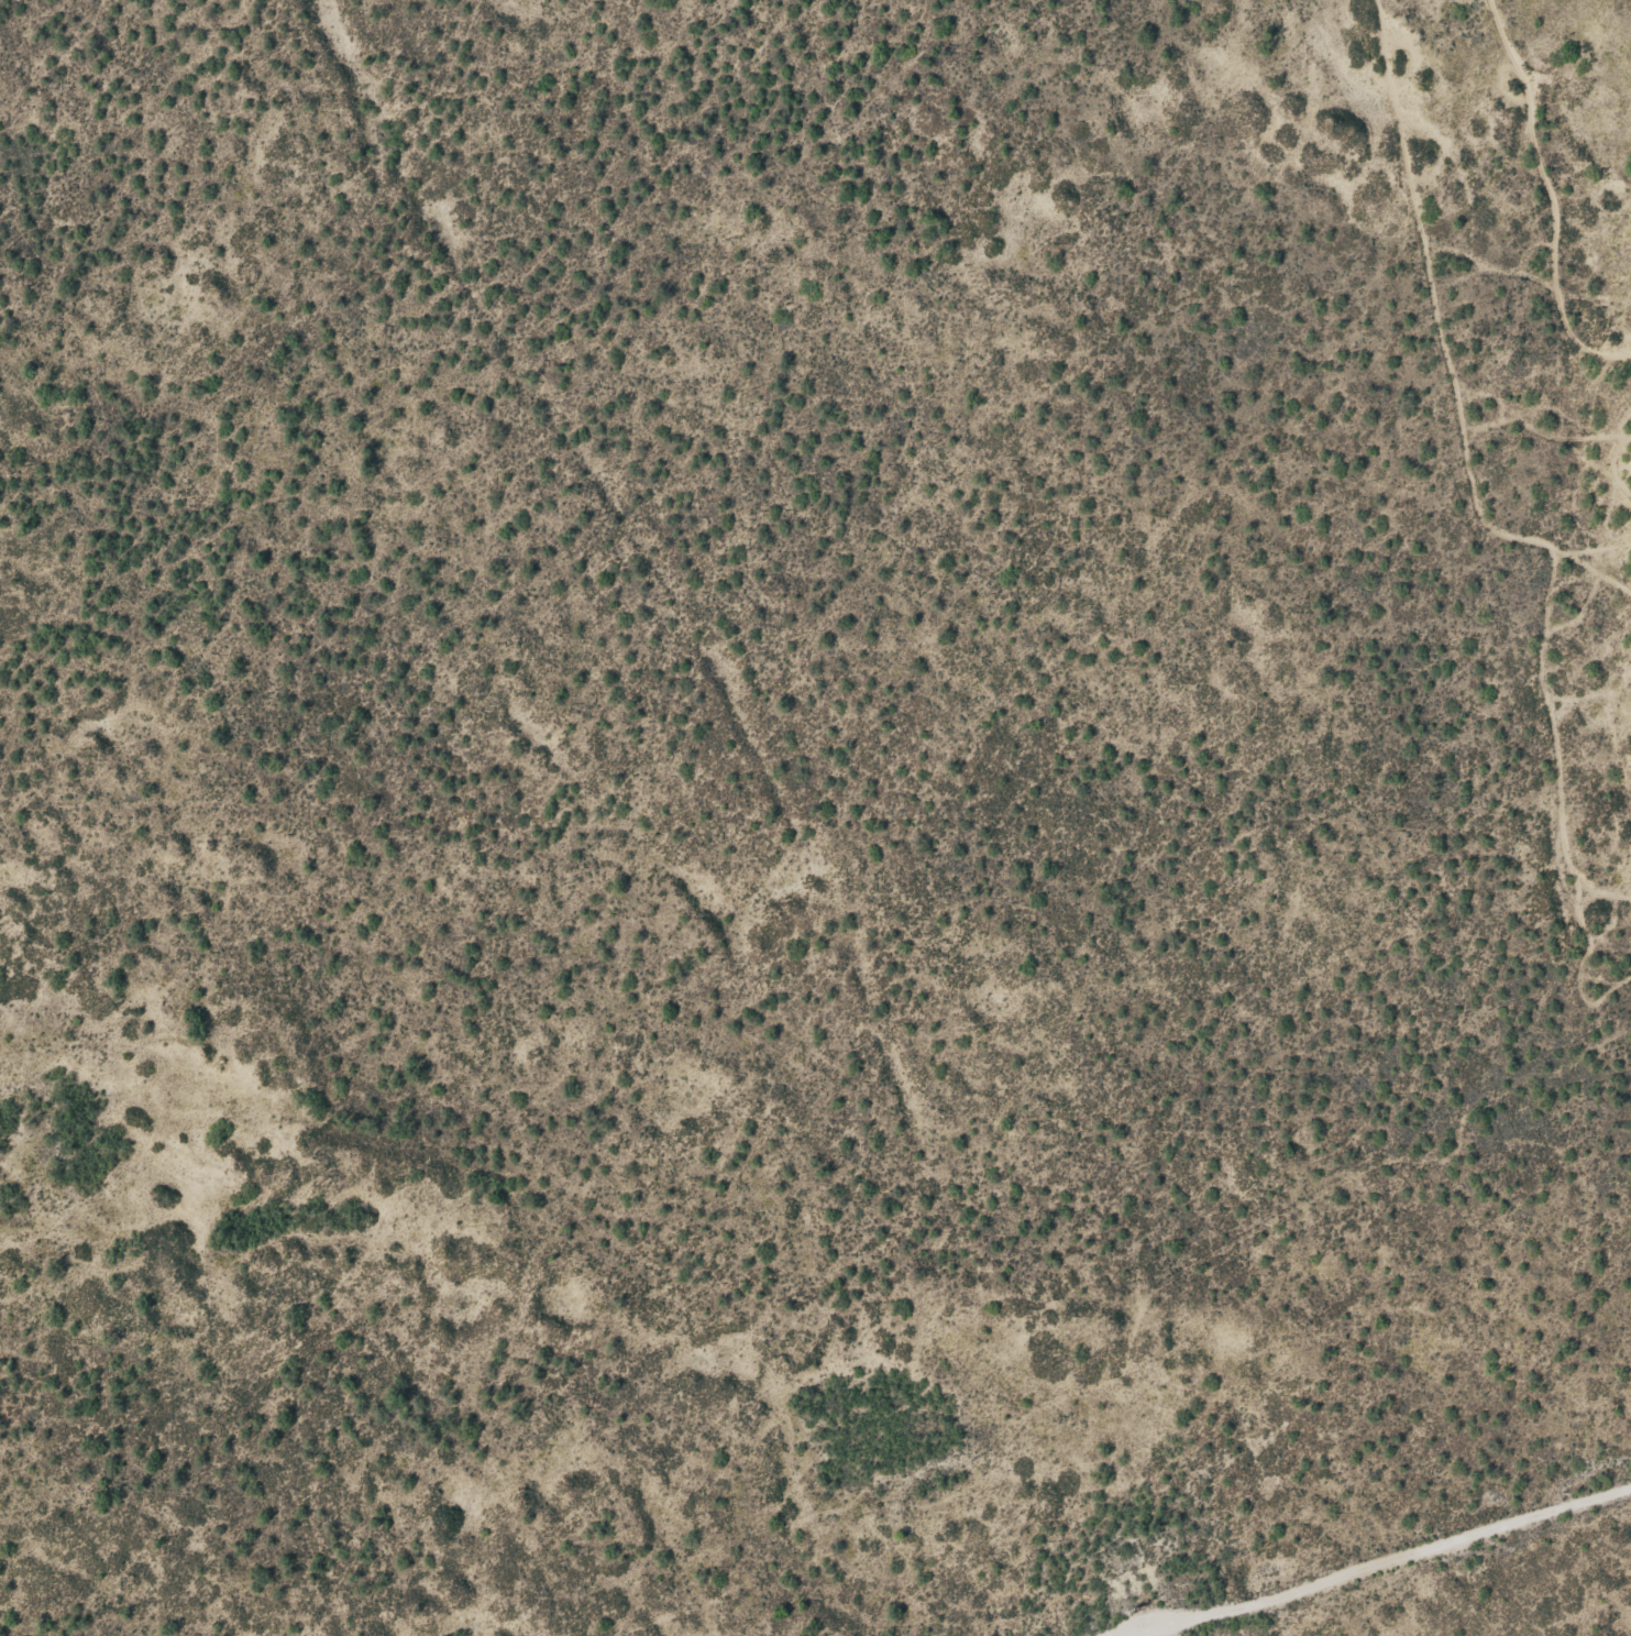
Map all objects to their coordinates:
road: (1380, 1558)

